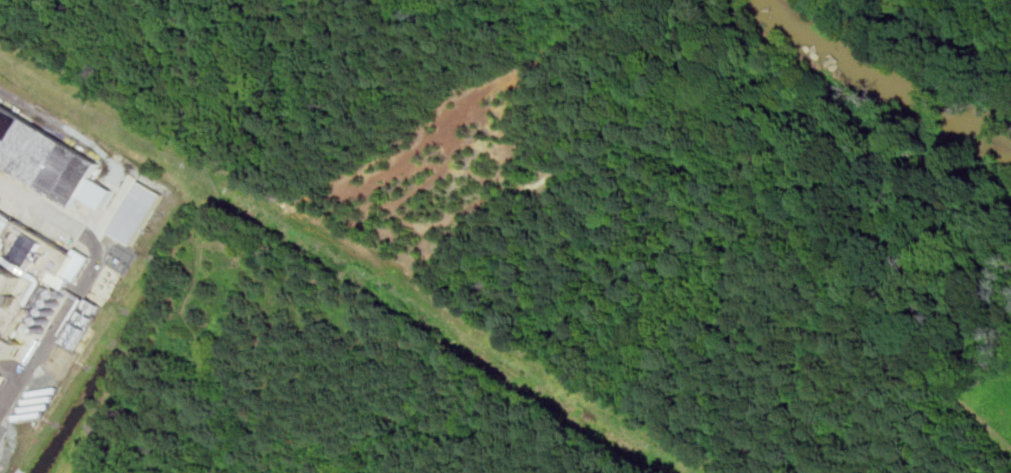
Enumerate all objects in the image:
river: (887, 84)
building: (47, 163)
road: (787, 210)
building: (136, 213)
road: (363, 246)
building: (26, 274)
road: (84, 280)
building: (0, 377)

